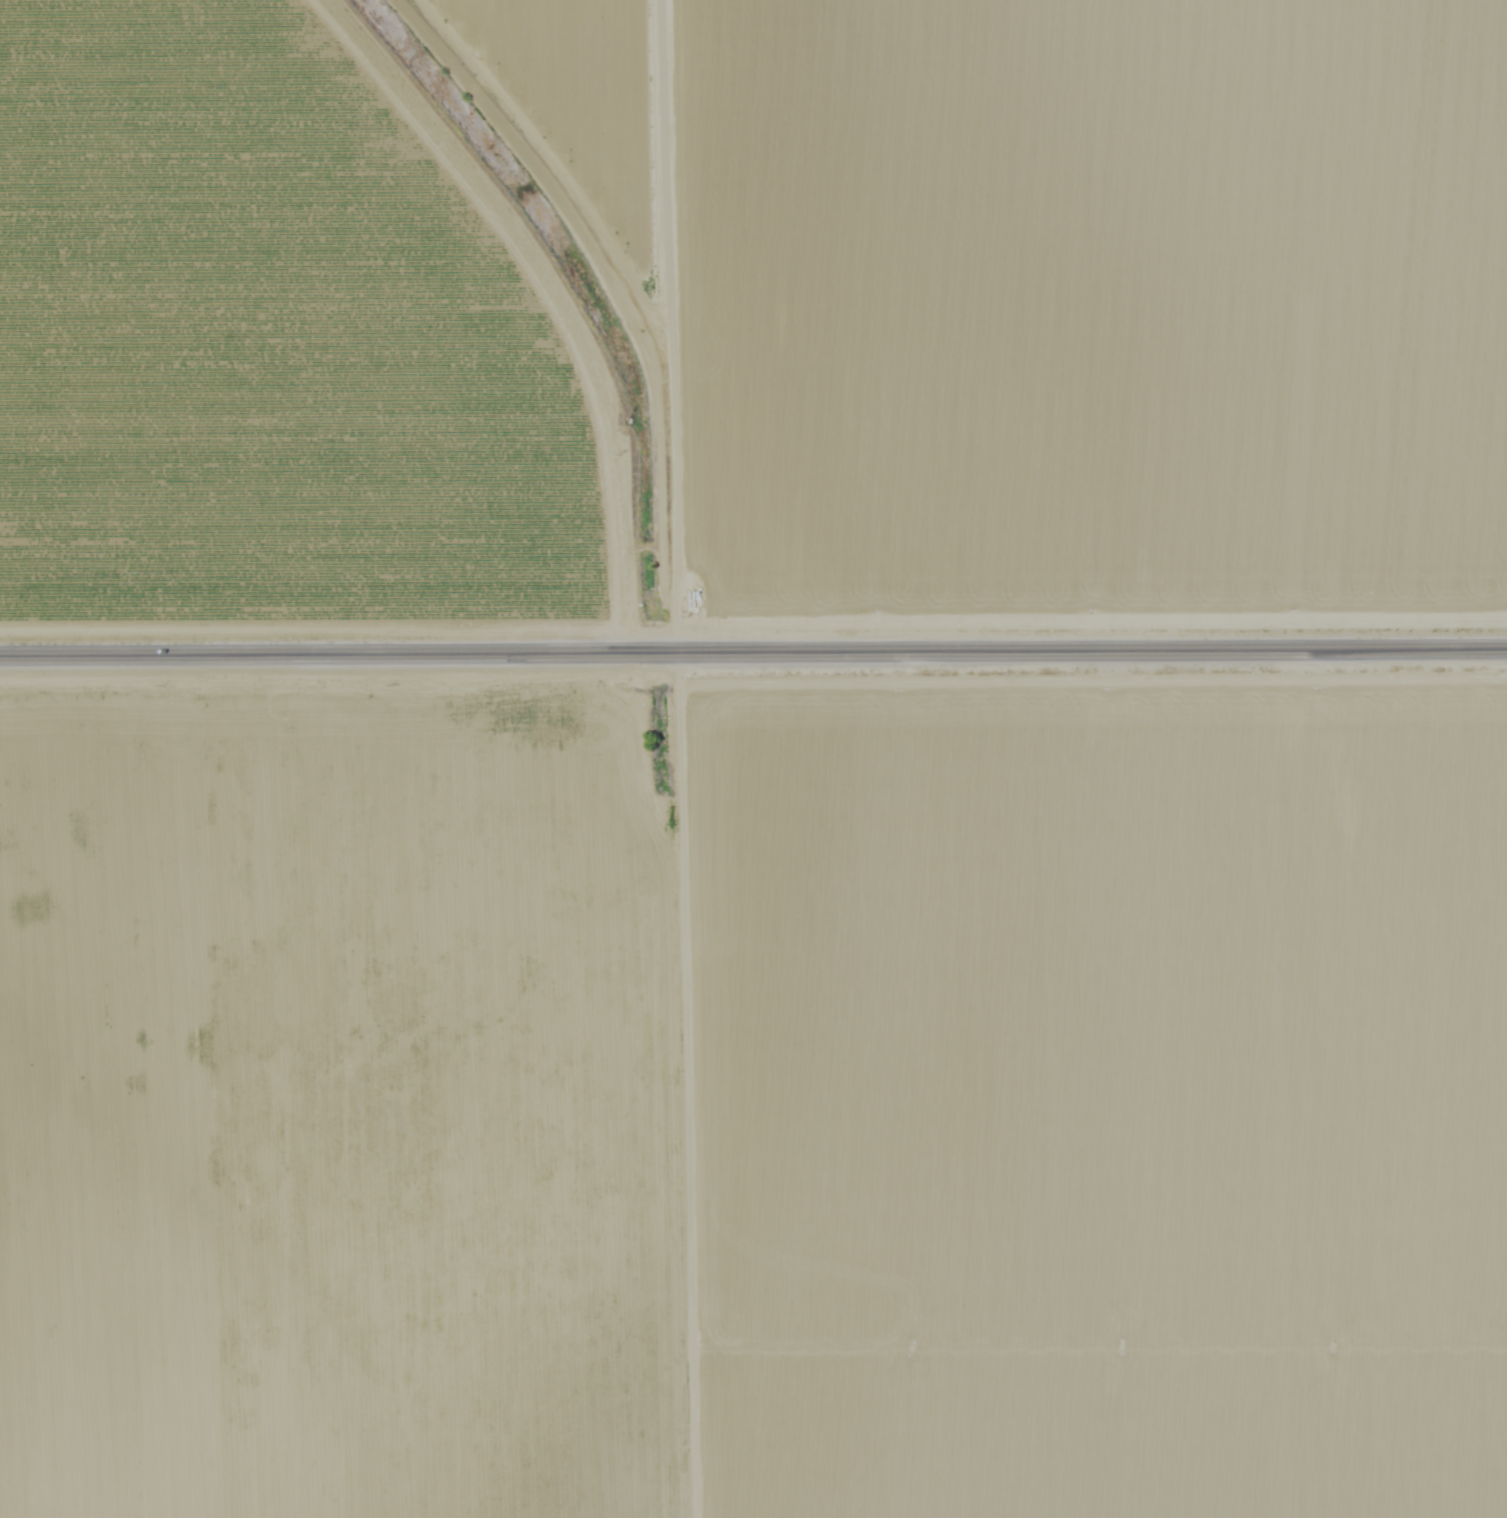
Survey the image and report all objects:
crop: (577, 97)
crop: (1103, 314)
crop: (318, 340)
road: (753, 652)
road: (675, 759)
crop: (1050, 1111)
crop: (297, 1113)

